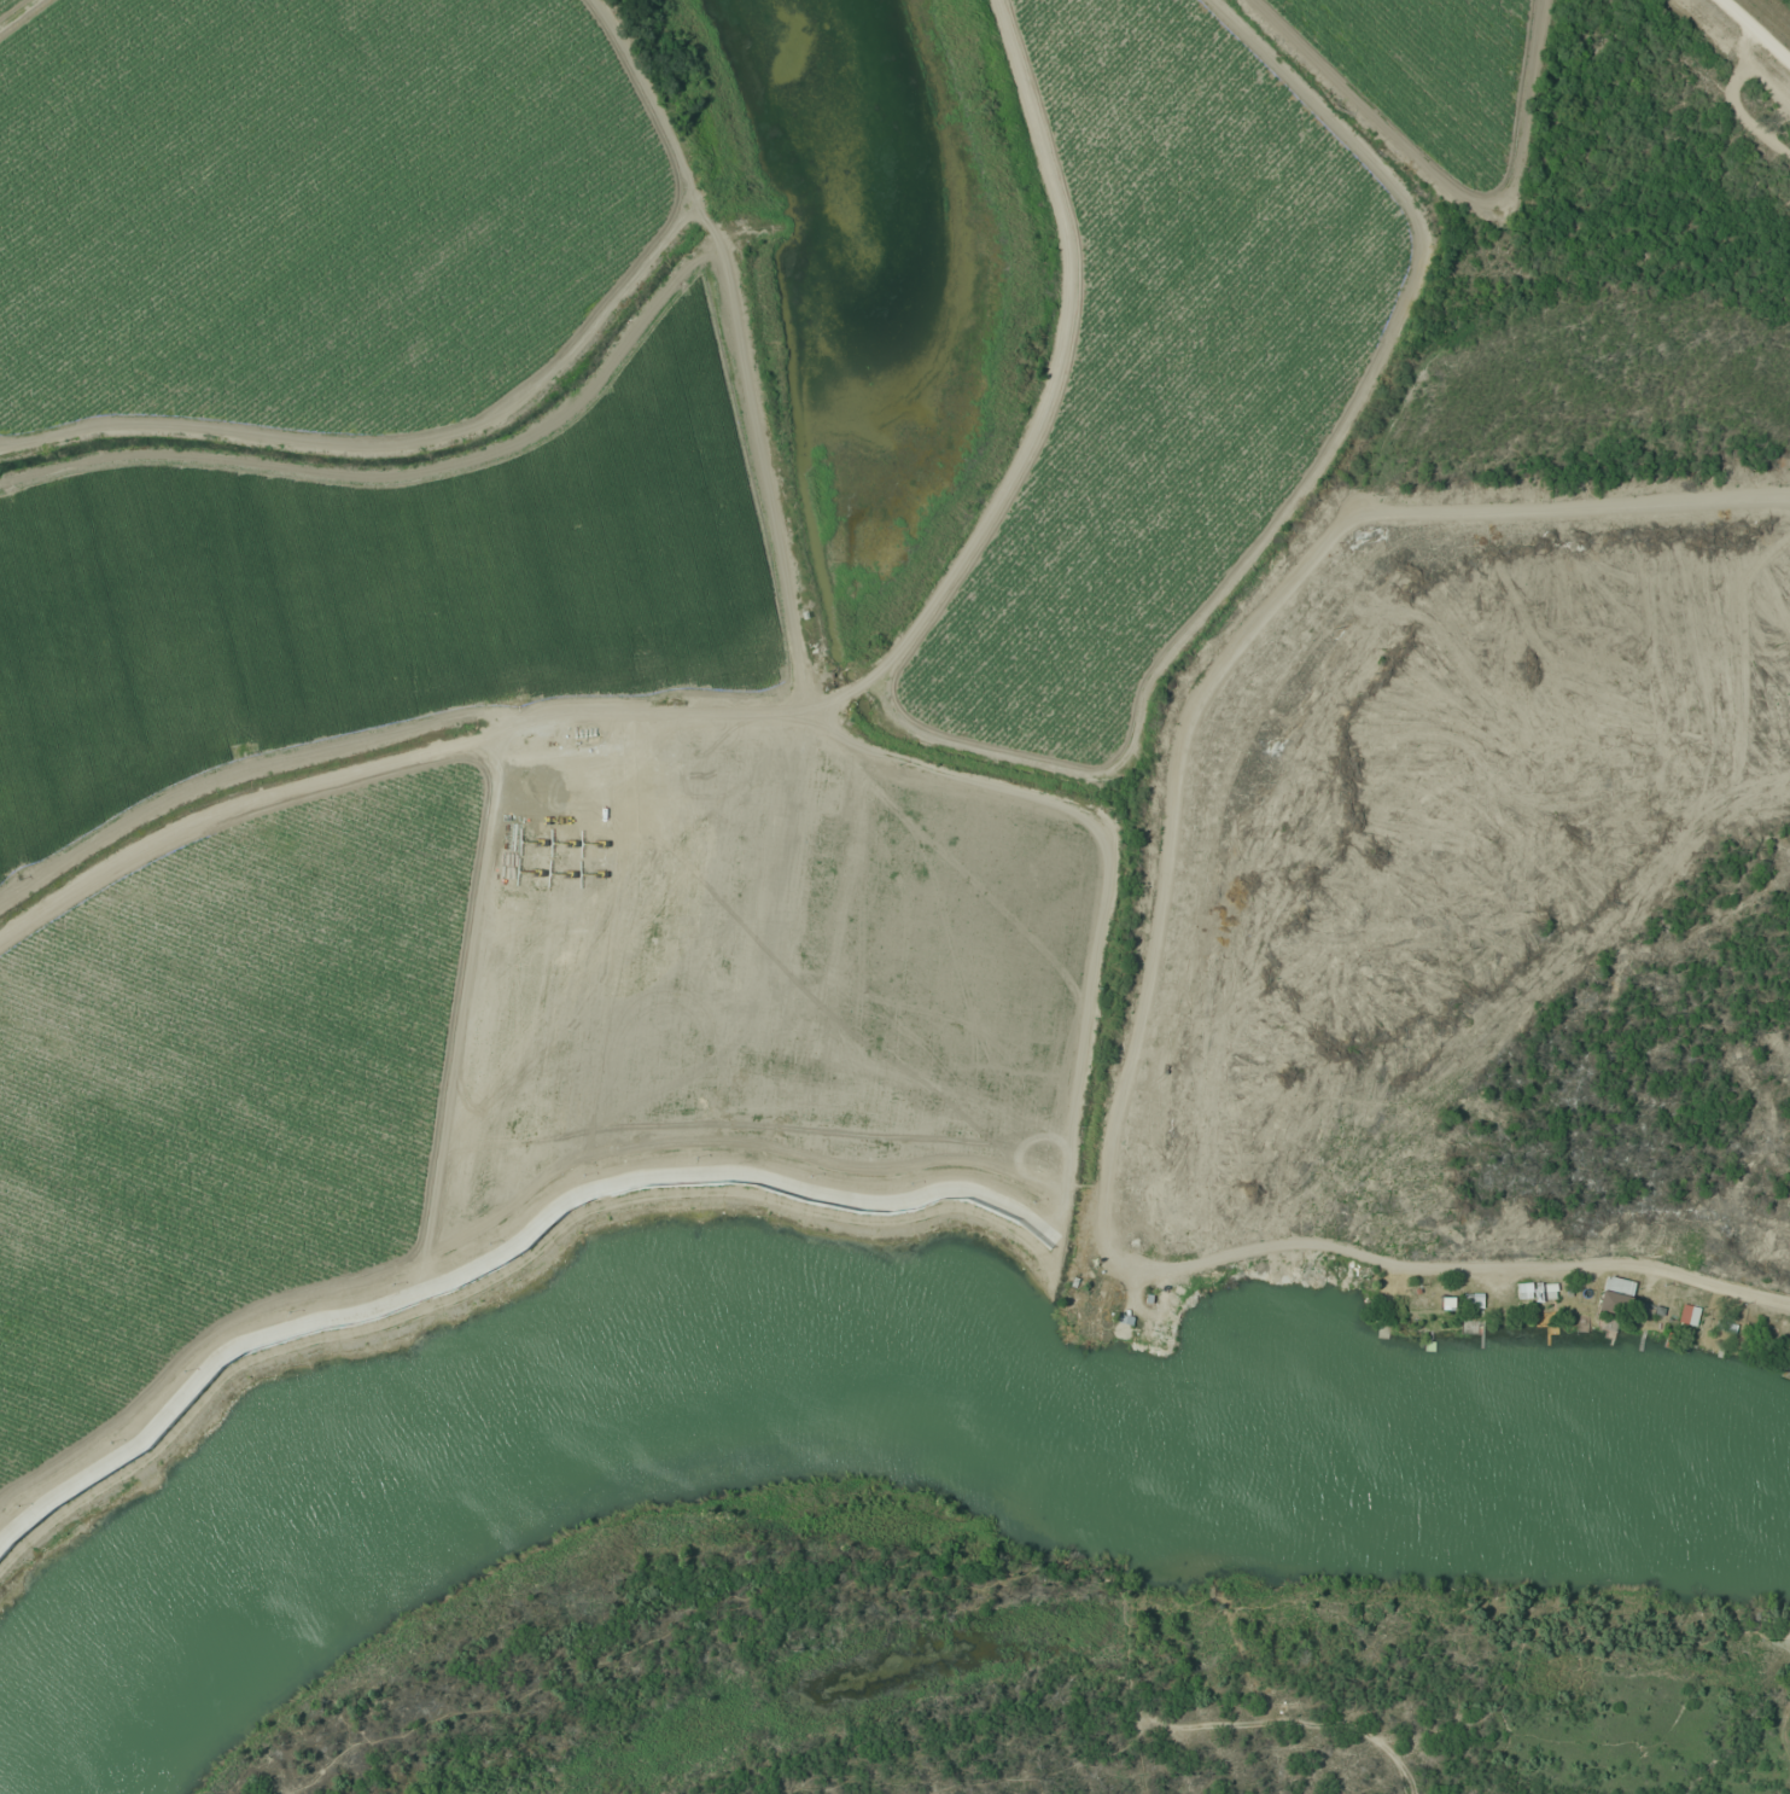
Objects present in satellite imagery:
road: (1757, 29)
road: (1370, 511)
road: (818, 699)
road: (786, 711)
road: (465, 1006)
road: (506, 1248)
road: (1246, 1253)
building: (1524, 1291)
building: (1550, 1291)
building: (1615, 1295)
building: (1473, 1300)
building: (1447, 1303)
building: (1691, 1310)
pier: (1642, 1341)
pier: (1430, 1345)
building: (1788, 1350)
road: (196, 1355)
river: (827, 1355)

